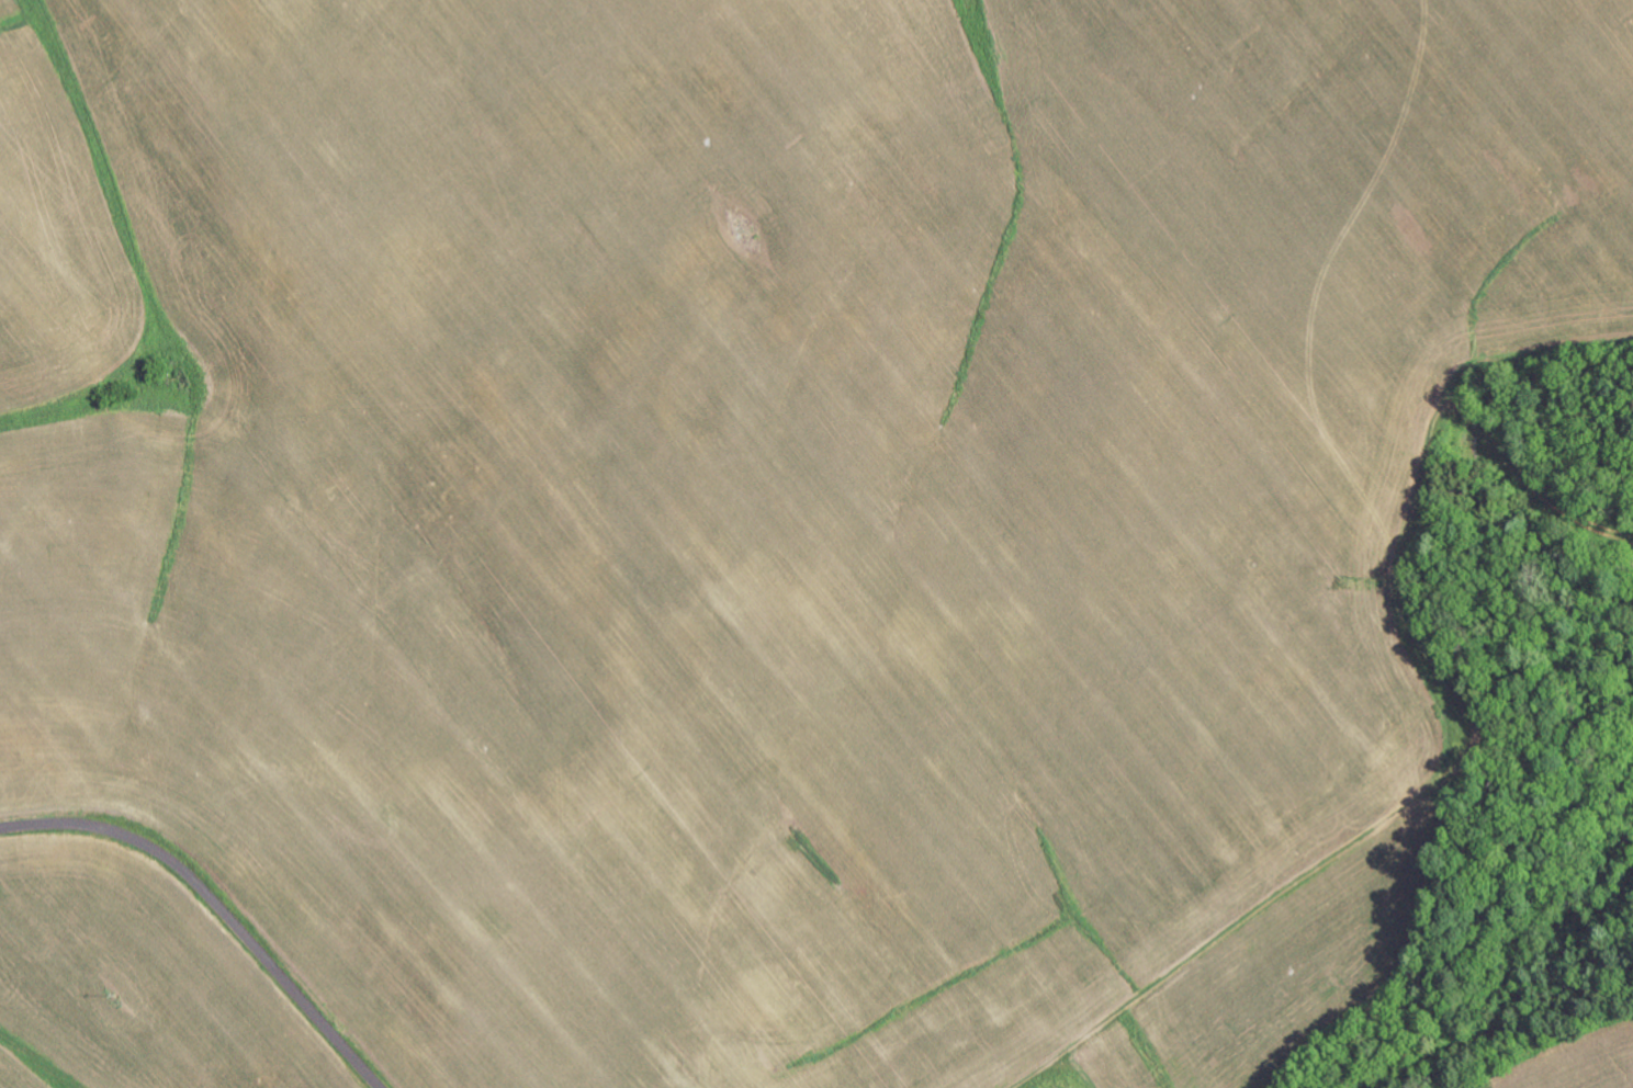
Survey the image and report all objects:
road: (215, 907)

